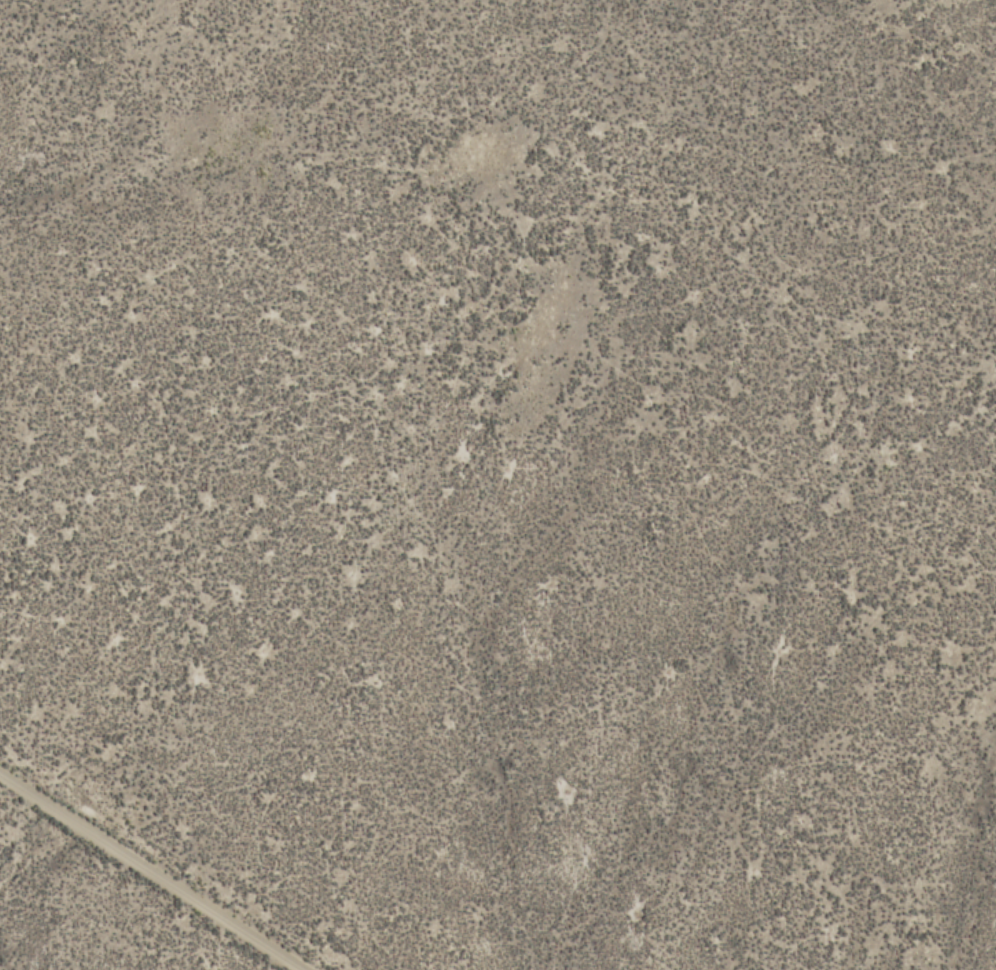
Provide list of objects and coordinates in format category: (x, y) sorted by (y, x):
road: (149, 873)

